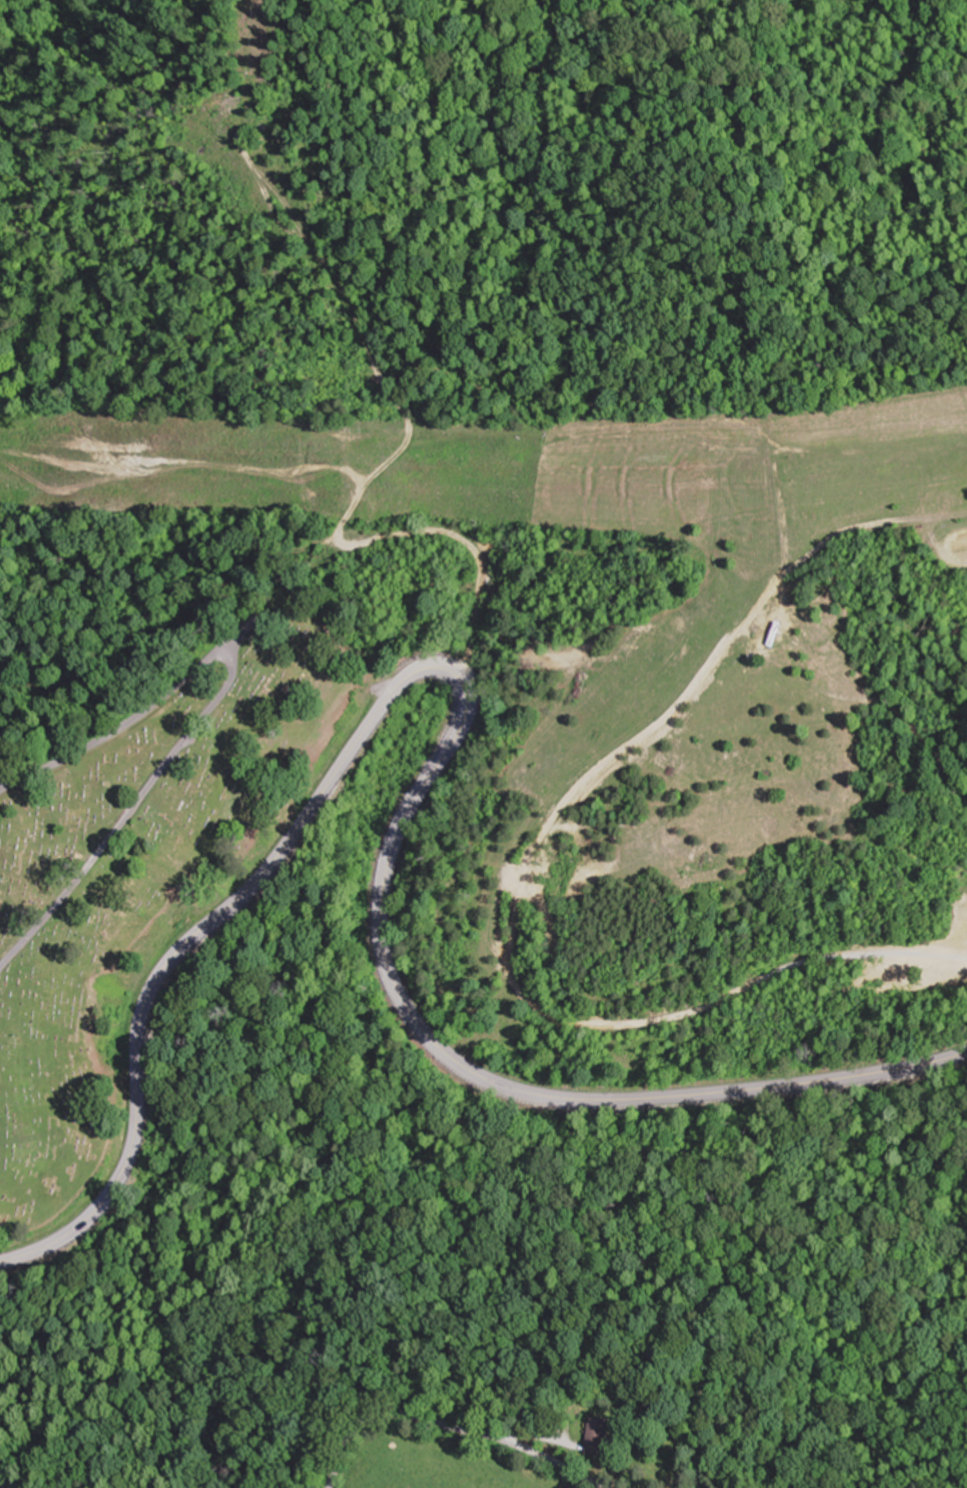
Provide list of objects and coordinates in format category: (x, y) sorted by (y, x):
road: (205, 713)
road: (445, 746)
road: (450, 1426)
building: (603, 1437)
road: (5, 1485)

